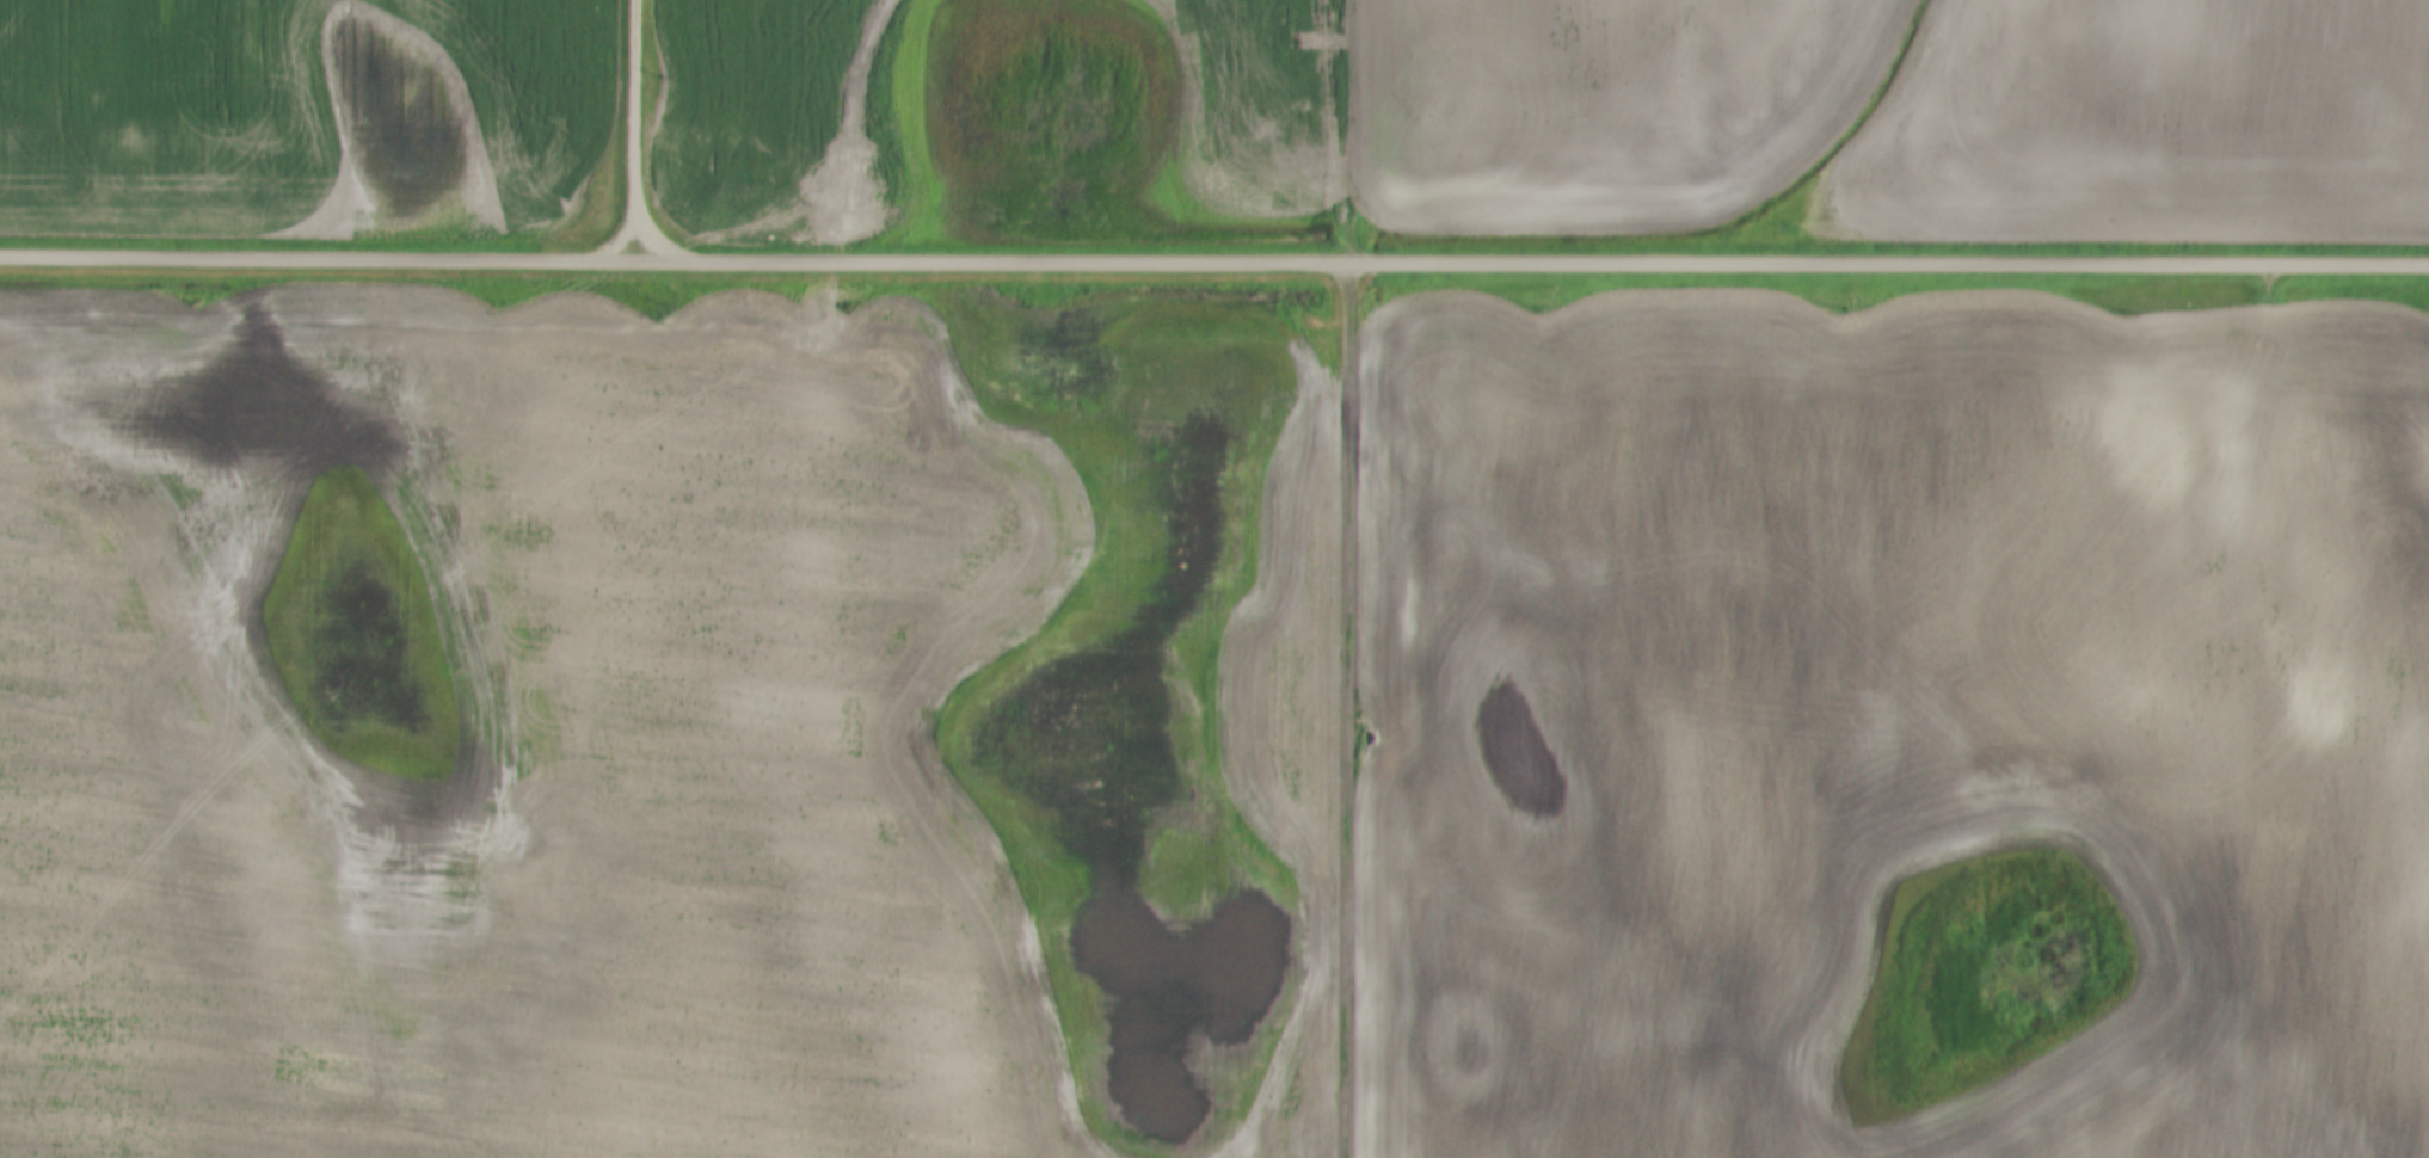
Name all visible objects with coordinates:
road: (634, 130)
road: (1351, 130)
road: (1214, 260)
road: (1352, 709)

